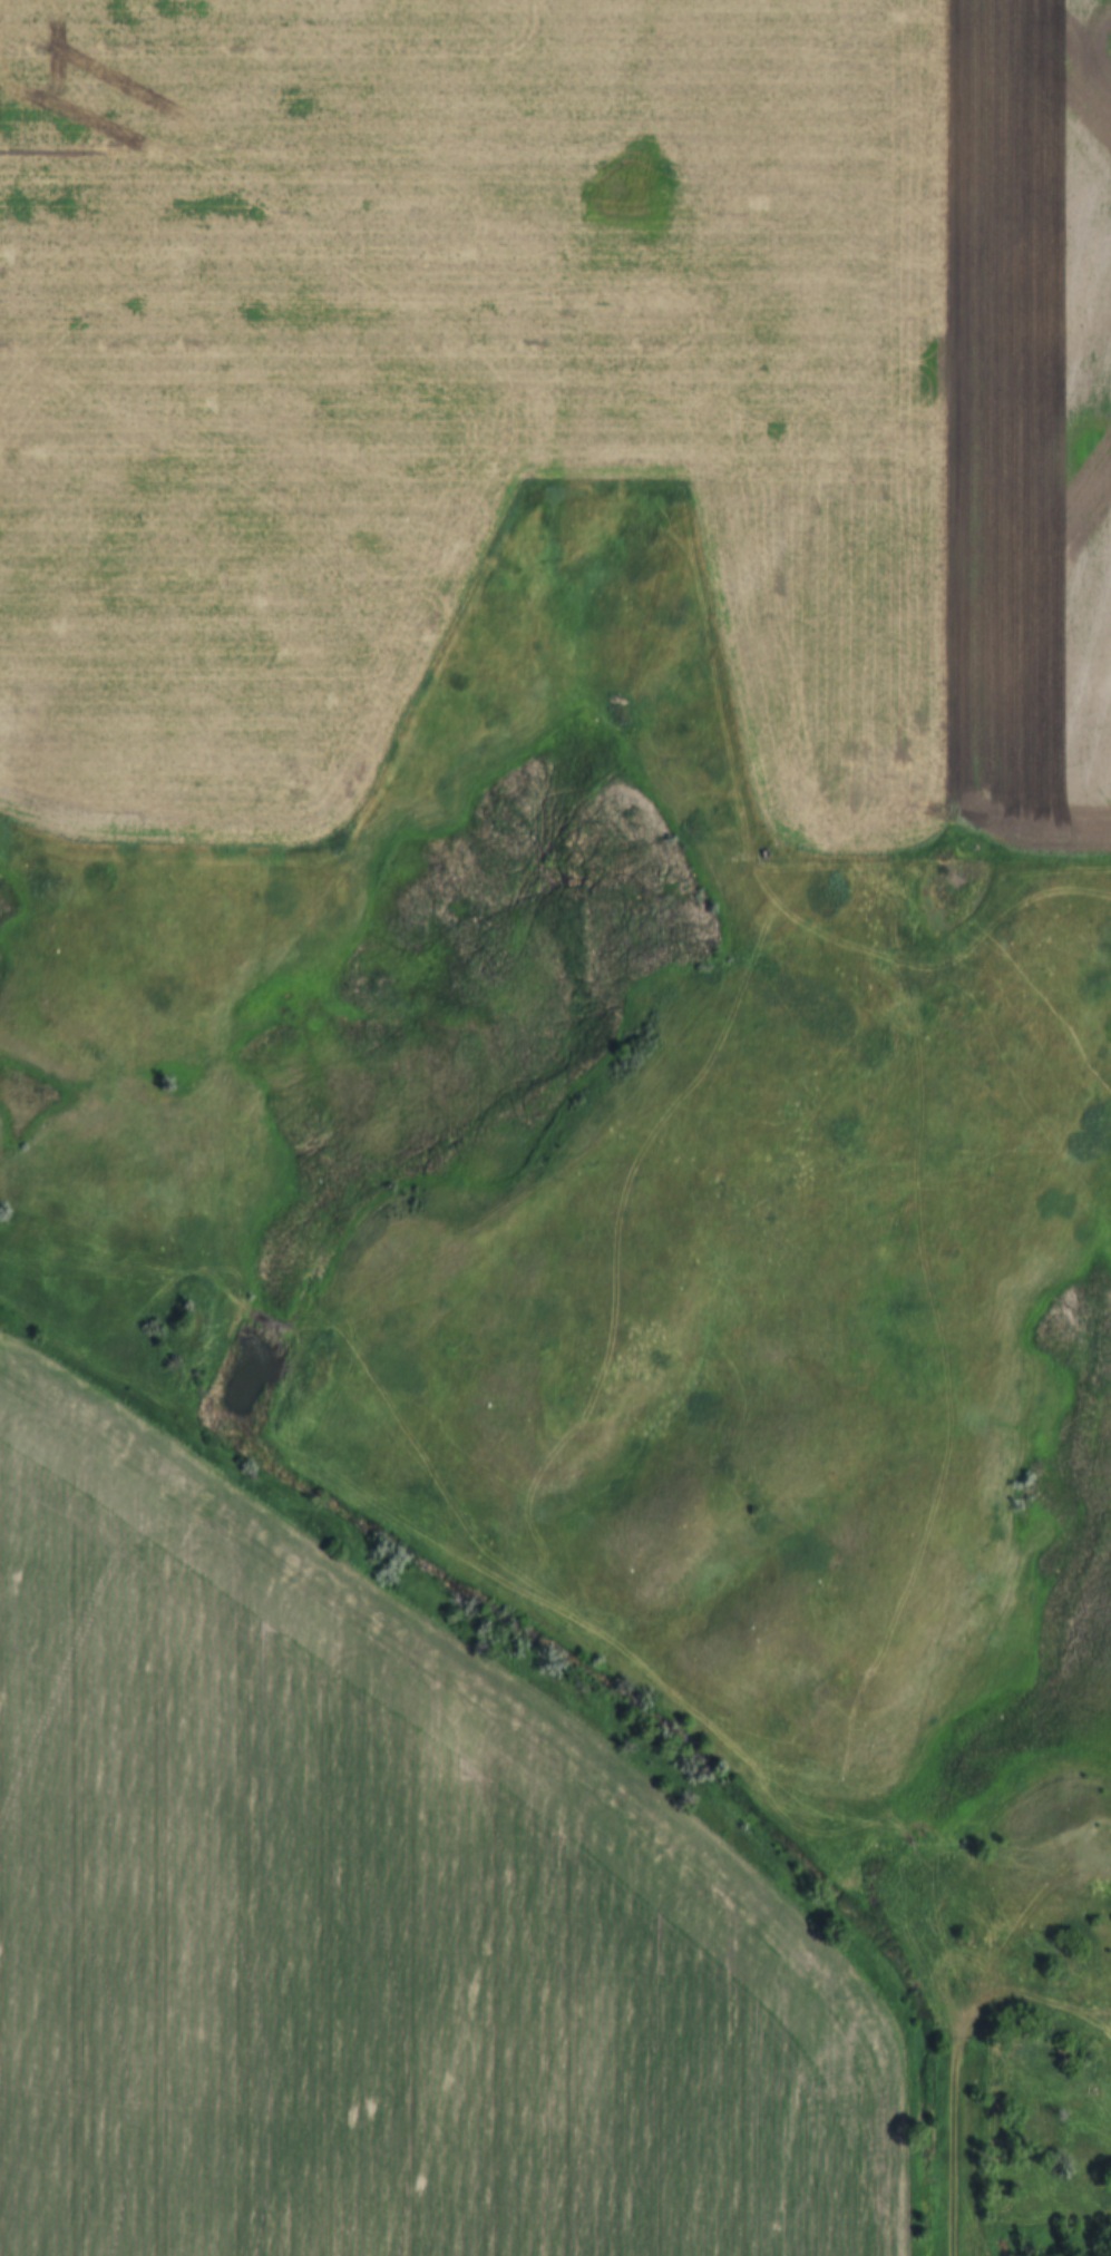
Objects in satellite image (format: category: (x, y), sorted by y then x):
road: (964, 2154)

